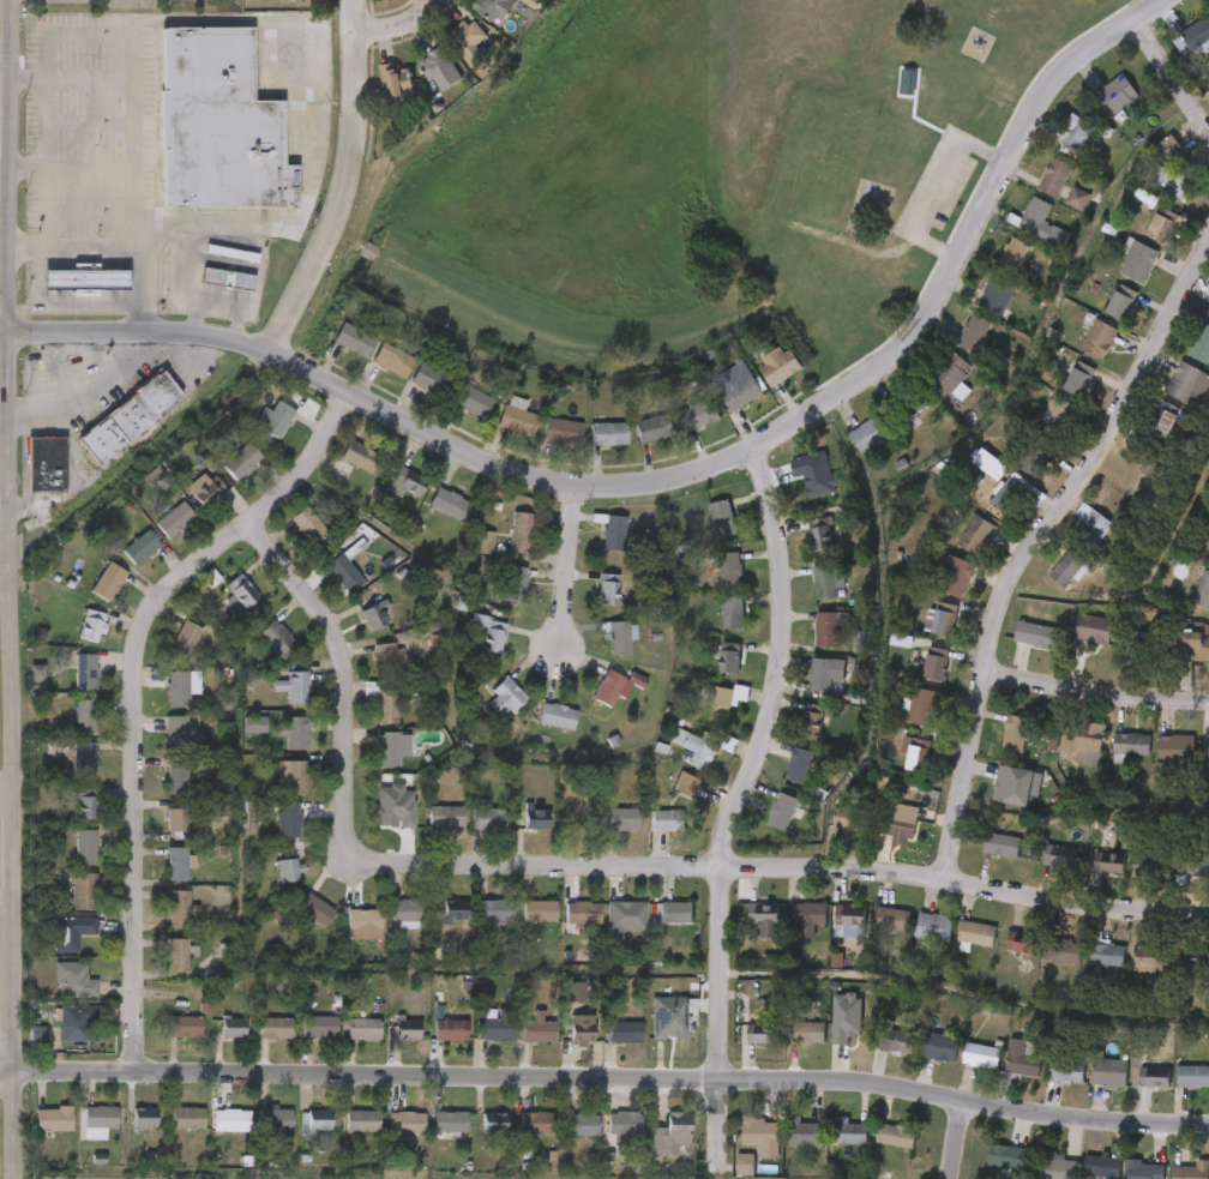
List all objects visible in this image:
building: (272, 7)
building: (494, 10)
building: (515, 12)
building: (474, 19)
road: (397, 26)
building: (1196, 34)
road: (60, 35)
building: (468, 40)
road: (10, 41)
building: (1178, 48)
building: (449, 54)
building: (441, 68)
road: (1172, 72)
road: (71, 79)
road: (5, 82)
building: (398, 82)
building: (421, 84)
building: (375, 95)
building: (1114, 95)
building: (890, 102)
building: (1095, 109)
road: (311, 114)
building: (217, 124)
road: (10, 125)
building: (1207, 132)
building: (1077, 136)
building: (1057, 146)
building: (1148, 162)
road: (71, 167)
park: (717, 174)
park: (702, 175)
building: (1053, 176)
building: (1181, 182)
road: (938, 187)
road: (344, 188)
building: (1034, 192)
building: (1075, 198)
building: (1057, 212)
building: (1125, 212)
building: (1039, 223)
building: (1160, 228)
building: (1021, 237)
building: (1141, 239)
road: (26, 246)
building: (1013, 254)
building: (1137, 261)
building: (994, 266)
building: (1117, 276)
building: (227, 278)
building: (83, 279)
road: (184, 284)
building: (1208, 289)
building: (65, 291)
building: (207, 293)
road: (253, 293)
building: (990, 295)
building: (1120, 303)
road: (10, 305)
building: (975, 311)
building: (1208, 314)
building: (1101, 317)
road: (235, 331)
building: (972, 333)
building: (350, 339)
building: (1097, 339)
building: (1199, 344)
building: (955, 348)
building: (333, 354)
building: (1078, 354)
building: (1184, 357)
building: (390, 360)
building: (777, 367)
building: (950, 373)
building: (372, 374)
building: (758, 379)
building: (1078, 379)
building: (428, 380)
building: (1186, 384)
building: (932, 390)
building: (738, 392)
building: (410, 393)
building: (1058, 393)
building: (1168, 397)
road: (79, 398)
building: (470, 402)
building: (721, 407)
building: (910, 410)
building: (1052, 413)
building: (453, 415)
building: (696, 415)
building: (128, 416)
building: (273, 417)
building: (513, 417)
building: (651, 428)
building: (1035, 428)
building: (678, 429)
building: (497, 431)
building: (559, 431)
building: (257, 433)
building: (606, 433)
building: (1143, 433)
building: (867, 435)
road: (4, 441)
building: (633, 443)
building: (541, 445)
building: (588, 447)
building: (849, 449)
building: (356, 456)
building: (239, 459)
building: (1031, 461)
building: (44, 464)
building: (801, 469)
building: (339, 470)
building: (1016, 474)
building: (222, 476)
building: (25, 479)
building: (968, 479)
building: (404, 480)
road: (679, 481)
building: (1143, 481)
building: (205, 492)
building: (1012, 494)
building: (384, 497)
road: (8, 500)
building: (446, 504)
building: (187, 505)
building: (993, 507)
building: (428, 518)
building: (172, 519)
building: (720, 519)
building: (305, 525)
building: (1088, 527)
building: (517, 533)
building: (613, 533)
building: (702, 533)
building: (155, 534)
building: (818, 534)
building: (974, 534)
building: (1071, 536)
building: (288, 540)
road: (1036, 545)
building: (500, 546)
building: (594, 546)
building: (138, 547)
building: (800, 548)
building: (955, 549)
building: (463, 555)
building: (120, 561)
building: (1204, 564)
building: (343, 567)
building: (1066, 567)
building: (726, 569)
road: (566, 571)
building: (952, 576)
building: (207, 578)
building: (106, 581)
building: (823, 582)
building: (709, 583)
building: (1047, 583)
building: (511, 584)
building: (604, 589)
building: (934, 590)
building: (1202, 590)
building: (236, 595)
building: (807, 595)
building: (88, 596)
building: (494, 597)
building: (587, 603)
building: (1190, 604)
building: (219, 608)
building: (728, 613)
building: (372, 619)
building: (943, 620)
building: (711, 621)
building: (89, 626)
building: (1091, 628)
building: (354, 631)
building: (824, 631)
building: (487, 632)
building: (924, 633)
building: (1036, 636)
building: (616, 638)
building: (72, 639)
building: (182, 639)
building: (273, 639)
building: (860, 642)
building: (1071, 643)
building: (806, 644)
building: (1143, 644)
building: (470, 646)
building: (1193, 646)
building: (1013, 649)
building: (599, 650)
building: (166, 651)
building: (257, 654)
building: (1179, 655)
building: (1118, 656)
building: (383, 660)
building: (726, 661)
building: (934, 668)
building: (368, 670)
building: (82, 673)
building: (823, 674)
building: (709, 675)
building: (915, 678)
building: (65, 685)
building: (17, 686)
building: (289, 687)
building: (612, 687)
building: (805, 687)
building: (175, 688)
road: (130, 690)
road: (1096, 694)
building: (504, 698)
building: (272, 700)
building: (595, 700)
building: (158, 703)
building: (390, 706)
building: (922, 706)
building: (483, 712)
building: (704, 715)
building: (82, 716)
building: (554, 716)
building: (367, 721)
building: (810, 721)
building: (903, 721)
building: (64, 729)
building: (537, 730)
building: (174, 733)
building: (792, 733)
building: (290, 734)
building: (1013, 734)
building: (234, 738)
building: (156, 742)
building: (1082, 744)
building: (1130, 745)
building: (273, 746)
building: (693, 747)
building: (994, 747)
building: (387, 750)
building: (1175, 750)
building: (1060, 756)
building: (1111, 758)
building: (915, 759)
building: (80, 760)
building: (675, 760)
building: (372, 762)
building: (1155, 762)
building: (1197, 763)
building: (796, 766)
building: (897, 769)
building: (64, 772)
building: (174, 777)
building: (293, 778)
building: (778, 780)
building: (684, 784)
building: (1010, 786)
building: (276, 790)
building: (157, 792)
building: (864, 796)
building: (667, 798)
building: (996, 799)
road: (738, 801)
building: (83, 805)
building: (251, 811)
building: (778, 813)
building: (65, 817)
building: (443, 817)
building: (399, 818)
road: (0, 819)
building: (486, 819)
building: (534, 819)
building: (848, 819)
building: (173, 820)
building: (287, 820)
building: (572, 820)
building: (618, 820)
building: (664, 822)
building: (762, 825)
building: (231, 826)
building: (892, 828)
building: (425, 830)
building: (468, 832)
building: (516, 832)
building: (825, 832)
building: (156, 834)
building: (269, 834)
building: (600, 834)
building: (646, 835)
building: (879, 837)
building: (999, 846)
building: (82, 847)
building: (1059, 855)
building: (981, 859)
building: (66, 861)
building: (174, 864)
building: (1107, 864)
building: (1192, 865)
road: (601, 866)
building: (1150, 866)
road: (8, 868)
building: (1040, 870)
building: (284, 871)
building: (157, 877)
building: (1088, 877)
building: (1127, 877)
building: (1177, 880)
building: (1205, 880)
building: (270, 884)
building: (82, 891)
road: (4, 901)
building: (64, 906)
building: (176, 908)
building: (313, 910)
building: (452, 910)
building: (494, 910)
building: (537, 912)
building: (672, 913)
building: (581, 914)
building: (763, 914)
building: (405, 915)
building: (622, 916)
building: (804, 919)
building: (362, 920)
building: (891, 920)
building: (848, 921)
building: (162, 922)
building: (295, 924)
building: (475, 924)
building: (434, 925)
building: (385, 926)
building: (519, 926)
building: (566, 926)
building: (655, 926)
building: (744, 927)
building: (606, 928)
building: (932, 930)
building: (70, 931)
building: (787, 932)
building: (344, 933)
building: (872, 933)
building: (830, 934)
building: (974, 934)
building: (913, 940)
building: (1021, 943)
building: (52, 945)
building: (956, 948)
building: (1061, 952)
building: (174, 955)
building: (1000, 956)
building: (1105, 956)
building: (1149, 958)
building: (1191, 961)
building: (1043, 964)
building: (158, 968)
building: (1205, 968)
building: (1085, 972)
building: (1173, 972)
building: (816, 974)
building: (1130, 974)
building: (71, 981)
building: (54, 993)
building: (72, 1024)
building: (495, 1025)
building: (182, 1027)
building: (231, 1028)
building: (273, 1028)
building: (317, 1028)
building: (535, 1028)
building: (361, 1029)
building: (405, 1029)
building: (579, 1029)
building: (447, 1030)
building: (649, 1030)
building: (622, 1033)
building: (825, 1033)
building: (762, 1034)
building: (806, 1034)
building: (853, 1034)
building: (56, 1035)
building: (474, 1037)
building: (164, 1040)
building: (212, 1041)
building: (258, 1041)
building: (300, 1041)
building: (895, 1041)
building: (343, 1042)
building: (387, 1042)
building: (517, 1042)
building: (561, 1042)
building: (431, 1043)
building: (604, 1045)
building: (741, 1047)
building: (787, 1047)
building: (937, 1047)
building: (882, 1055)
building: (979, 1057)
building: (919, 1060)
building: (1018, 1061)
building: (961, 1070)
building: (1064, 1071)
building: (1002, 1073)
building: (1107, 1073)
road: (606, 1077)
building: (1153, 1077)
building: (1192, 1077)
building: (1045, 1084)
building: (1089, 1087)
building: (1133, 1090)
building: (1174, 1090)
building: (1204, 1091)
building: (98, 1117)
building: (142, 1118)
building: (185, 1118)
building: (50, 1119)
building: (272, 1119)
building: (229, 1120)
building: (360, 1121)
building: (313, 1123)
building: (447, 1123)
building: (492, 1123)
building: (534, 1123)
building: (404, 1124)
building: (577, 1125)
building: (621, 1125)
building: (124, 1131)
building: (167, 1131)
building: (846, 1131)
building: (34, 1132)
building: (254, 1132)
building: (211, 1133)
building: (804, 1133)
building: (79, 1135)
building: (295, 1135)
building: (342, 1135)
building: (429, 1135)
building: (666, 1135)
building: (760, 1135)
building: (895, 1135)
building: (385, 1136)
building: (473, 1136)
building: (517, 1136)
building: (560, 1138)
building: (603, 1139)
road: (958, 1141)
building: (828, 1145)
building: (649, 1148)
building: (784, 1148)
building: (741, 1149)
building: (874, 1149)
building: (1005, 1156)
building: (1055, 1166)
building: (1101, 1166)
building: (986, 1169)
building: (1144, 1169)
building: (1191, 1171)
building: (724, 1173)
building: (1034, 1173)
building: (1081, 1174)
building: (1124, 1177)

